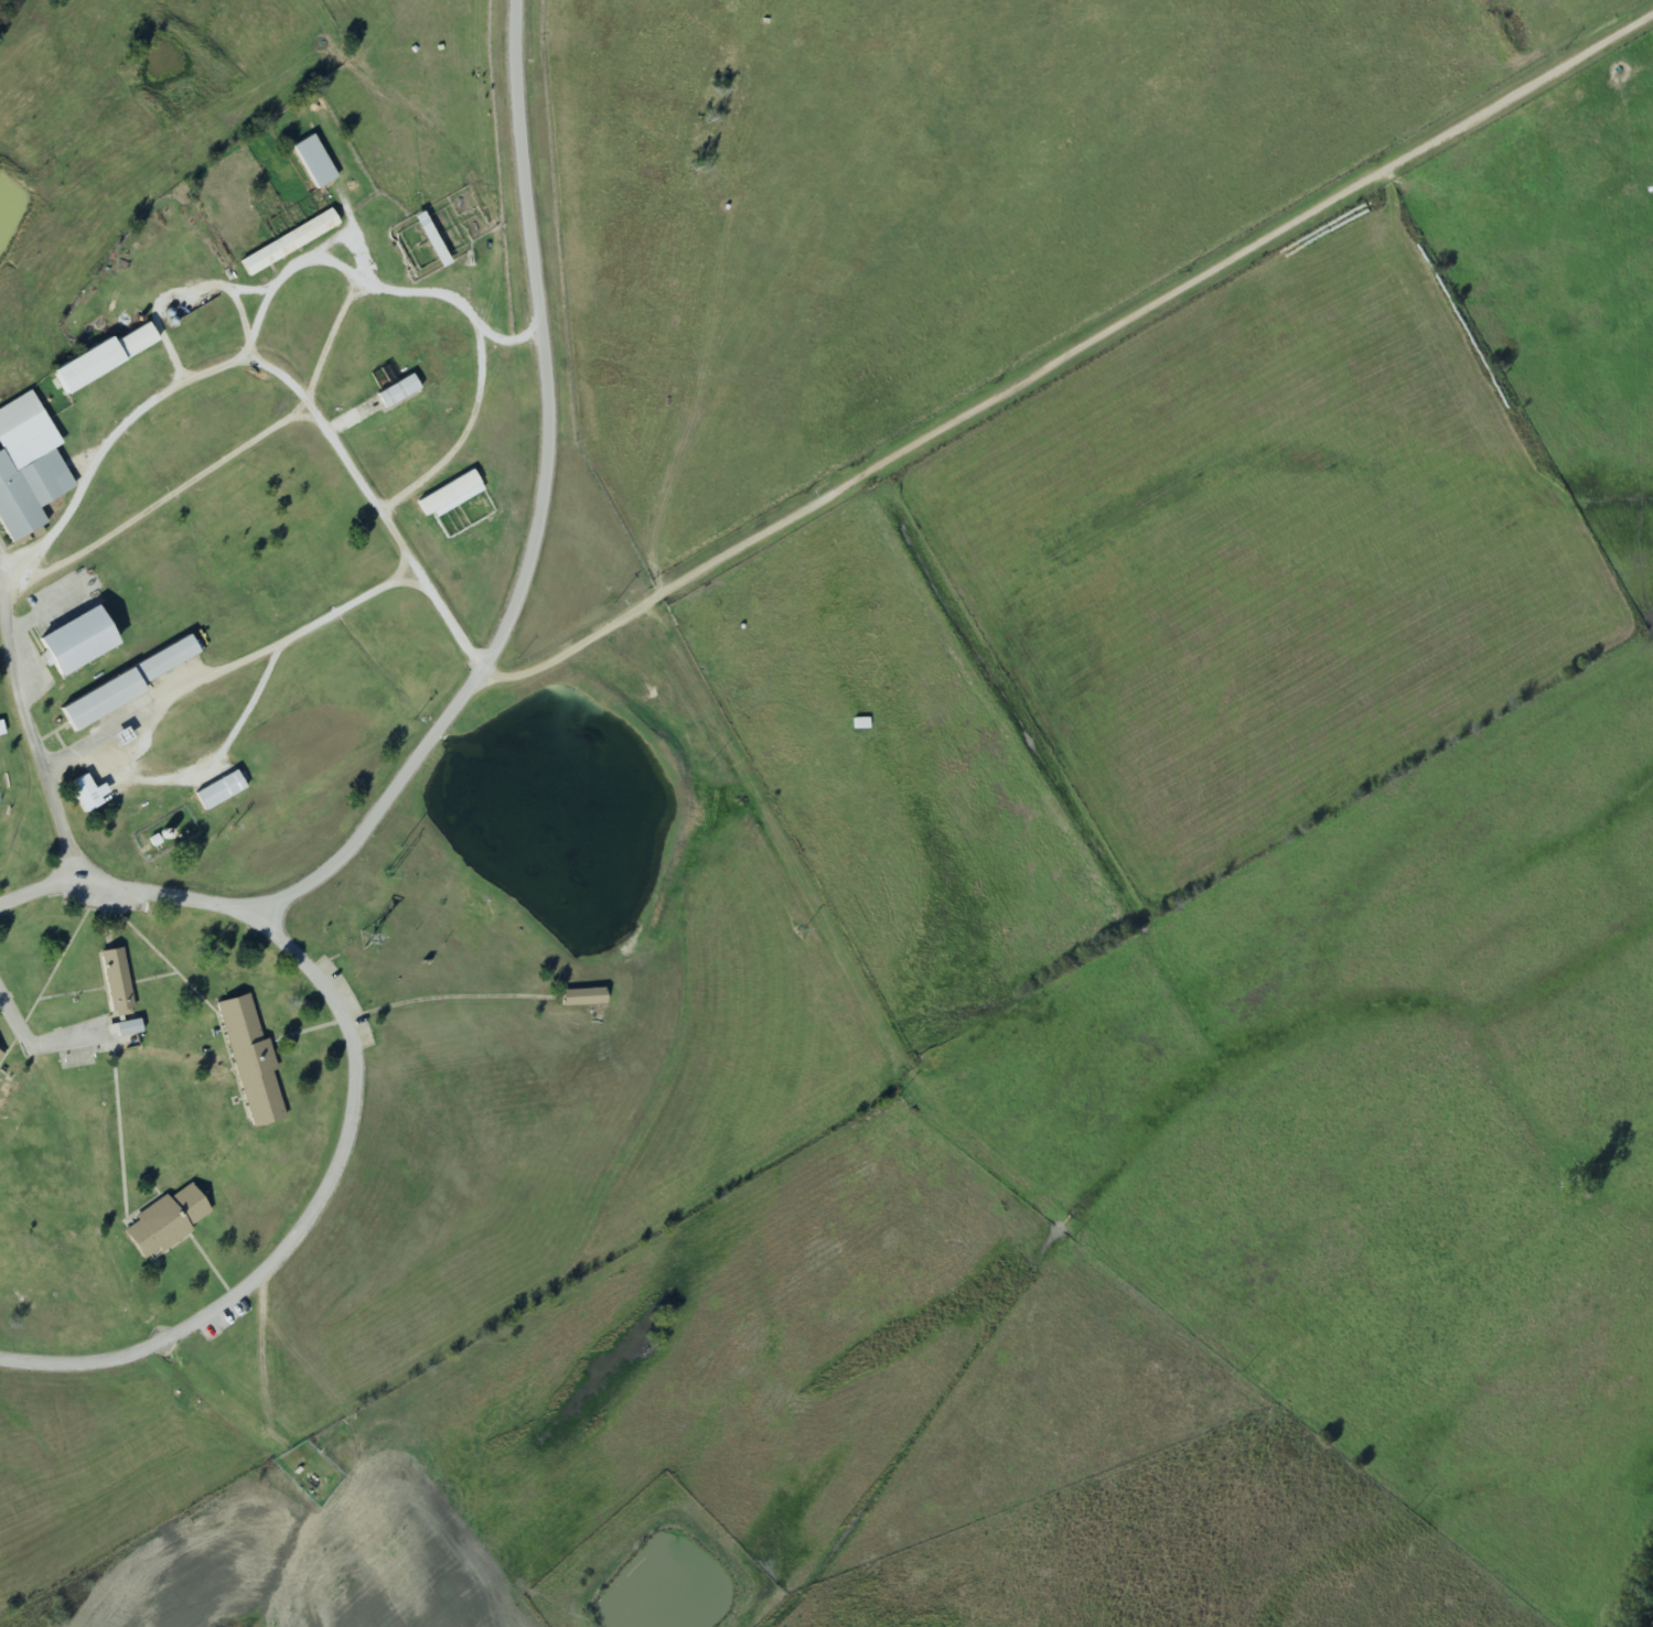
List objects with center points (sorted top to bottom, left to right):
building: (315, 163)
building: (431, 239)
building: (290, 244)
building: (103, 358)
building: (398, 392)
building: (28, 468)
building: (450, 496)
road: (541, 507)
building: (76, 643)
building: (125, 687)
building: (861, 725)
building: (221, 791)
building: (88, 795)
building: (117, 983)
building: (581, 999)
building: (128, 1030)
building: (0, 1053)
building: (251, 1062)
road: (374, 1106)
building: (165, 1224)
building: (15, 1267)

